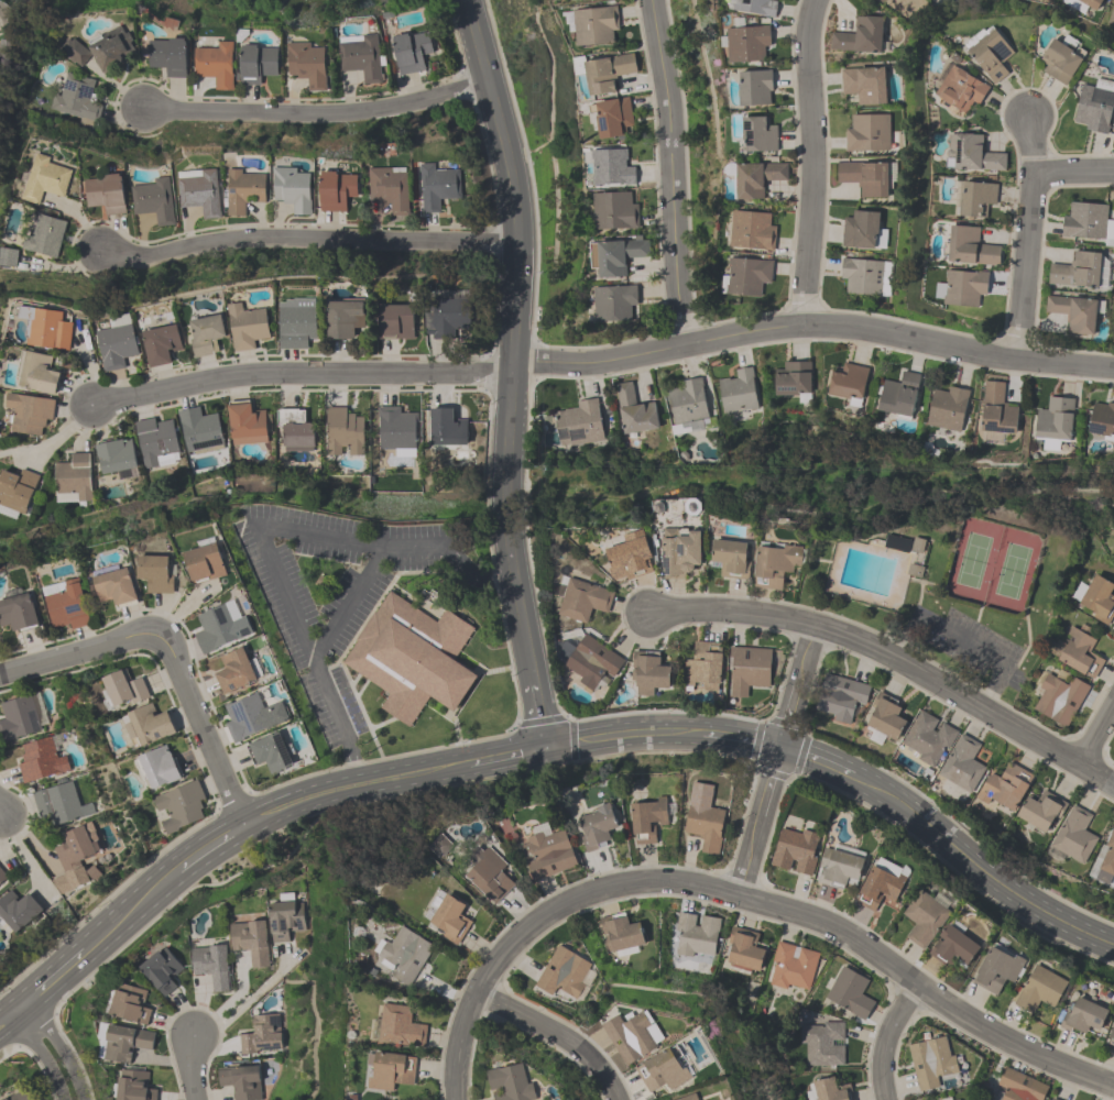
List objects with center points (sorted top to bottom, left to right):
building: (881, 0)
building: (1082, 4)
building: (755, 7)
building: (389, 14)
building: (1111, 15)
building: (592, 24)
building: (859, 35)
building: (745, 42)
building: (112, 48)
building: (412, 51)
building: (989, 52)
building: (76, 53)
building: (168, 56)
building: (363, 57)
building: (1061, 58)
building: (256, 63)
building: (216, 64)
building: (307, 64)
building: (608, 73)
building: (864, 85)
building: (755, 87)
building: (961, 89)
building: (76, 98)
building: (1094, 105)
road: (318, 112)
building: (612, 117)
building: (867, 133)
building: (758, 134)
building: (971, 153)
road: (806, 163)
building: (612, 166)
road: (1071, 169)
road: (674, 172)
building: (754, 177)
building: (864, 177)
building: (45, 179)
building: (439, 186)
building: (293, 189)
building: (390, 189)
building: (244, 190)
building: (337, 190)
building: (200, 191)
building: (105, 193)
building: (976, 198)
building: (154, 200)
building: (614, 210)
building: (1088, 222)
building: (860, 229)
building: (752, 230)
building: (44, 235)
road: (310, 239)
road: (1025, 240)
building: (971, 248)
building: (615, 255)
building: (8, 256)
building: (1077, 271)
building: (747, 275)
building: (862, 276)
building: (965, 287)
building: (614, 302)
building: (1073, 312)
building: (447, 317)
building: (345, 318)
building: (396, 321)
building: (297, 322)
building: (247, 327)
building: (46, 328)
building: (206, 334)
road: (515, 338)
building: (117, 342)
building: (161, 344)
road: (603, 354)
building: (36, 373)
building: (794, 381)
building: (849, 383)
building: (738, 391)
building: (899, 394)
building: (688, 407)
building: (947, 408)
building: (634, 411)
building: (29, 413)
building: (996, 415)
building: (1102, 420)
building: (1055, 422)
building: (245, 424)
building: (578, 424)
building: (199, 429)
building: (295, 430)
building: (396, 430)
building: (446, 430)
building: (343, 431)
building: (156, 441)
building: (114, 457)
building: (74, 476)
building: (15, 492)
road: (261, 536)
building: (679, 551)
building: (629, 557)
building: (730, 559)
building: (205, 564)
building: (775, 564)
building: (155, 573)
building: (116, 587)
road: (352, 598)
building: (583, 599)
building: (1099, 599)
building: (67, 605)
building: (18, 613)
building: (219, 628)
road: (962, 639)
building: (1080, 653)
building: (411, 658)
road: (80, 660)
building: (592, 661)
road: (891, 664)
building: (702, 667)
building: (747, 669)
building: (234, 671)
building: (647, 672)
building: (123, 690)
building: (840, 696)
building: (1058, 696)
road: (544, 714)
building: (252, 716)
building: (886, 717)
building: (18, 718)
building: (149, 726)
road: (1097, 730)
road: (203, 733)
road: (627, 734)
building: (928, 738)
road: (742, 740)
traffic signals: (778, 748)
traffic signals: (551, 749)
building: (271, 752)
road: (510, 756)
building: (40, 760)
road: (816, 760)
road: (774, 761)
building: (962, 763)
building: (159, 767)
road: (412, 772)
building: (1006, 787)
road: (297, 796)
building: (61, 803)
building: (181, 805)
building: (1042, 811)
building: (647, 820)
building: (705, 826)
building: (597, 827)
building: (1074, 835)
road: (208, 843)
building: (795, 850)
building: (547, 855)
building: (74, 858)
building: (1106, 861)
building: (838, 868)
road: (979, 868)
building: (2, 876)
building: (489, 877)
building: (881, 883)
road: (741, 897)
road: (130, 906)
building: (15, 911)
building: (285, 916)
building: (448, 917)
building: (924, 917)
building: (696, 934)
building: (620, 935)
building: (251, 941)
building: (953, 947)
building: (744, 949)
building: (403, 955)
building: (212, 966)
building: (791, 966)
building: (162, 970)
building: (997, 970)
building: (563, 972)
road: (52, 981)
building: (1040, 989)
building: (850, 993)
building: (130, 1004)
road: (243, 1004)
building: (1083, 1018)
road: (9, 1020)
building: (400, 1026)
building: (261, 1034)
road: (556, 1034)
building: (632, 1035)
road: (886, 1037)
building: (1111, 1038)
building: (125, 1043)
building: (821, 1043)
road: (51, 1053)
building: (931, 1061)
road: (192, 1068)
building: (390, 1070)
building: (663, 1070)
building: (241, 1081)
building: (510, 1083)
building: (134, 1086)
building: (1019, 1086)
building: (828, 1090)
building: (18, 1096)
building: (688, 1098)
building: (959, 1099)
building: (1051, 1099)

